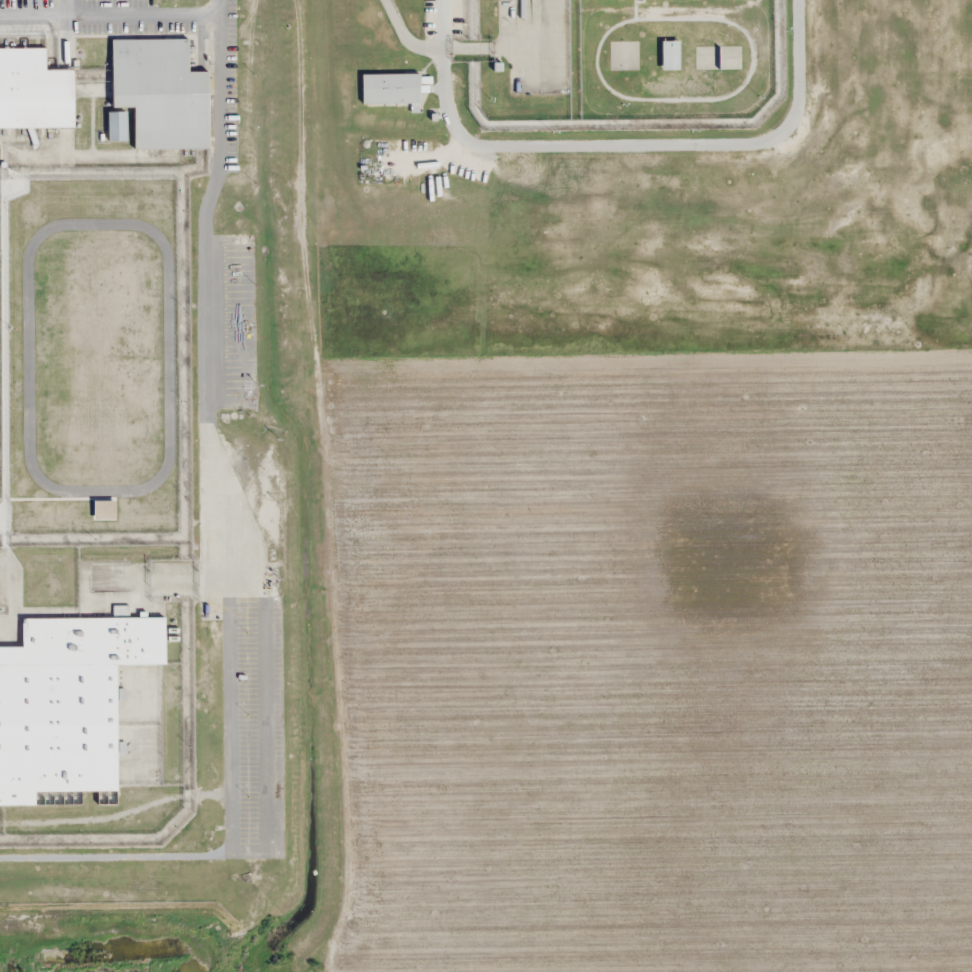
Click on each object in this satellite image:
building: (668, 55)
building: (730, 59)
building: (388, 89)
building: (34, 90)
building: (162, 93)
building: (118, 126)
building: (78, 216)
building: (80, 285)
building: (80, 354)
building: (81, 422)
road: (310, 486)
building: (81, 491)
building: (80, 706)

